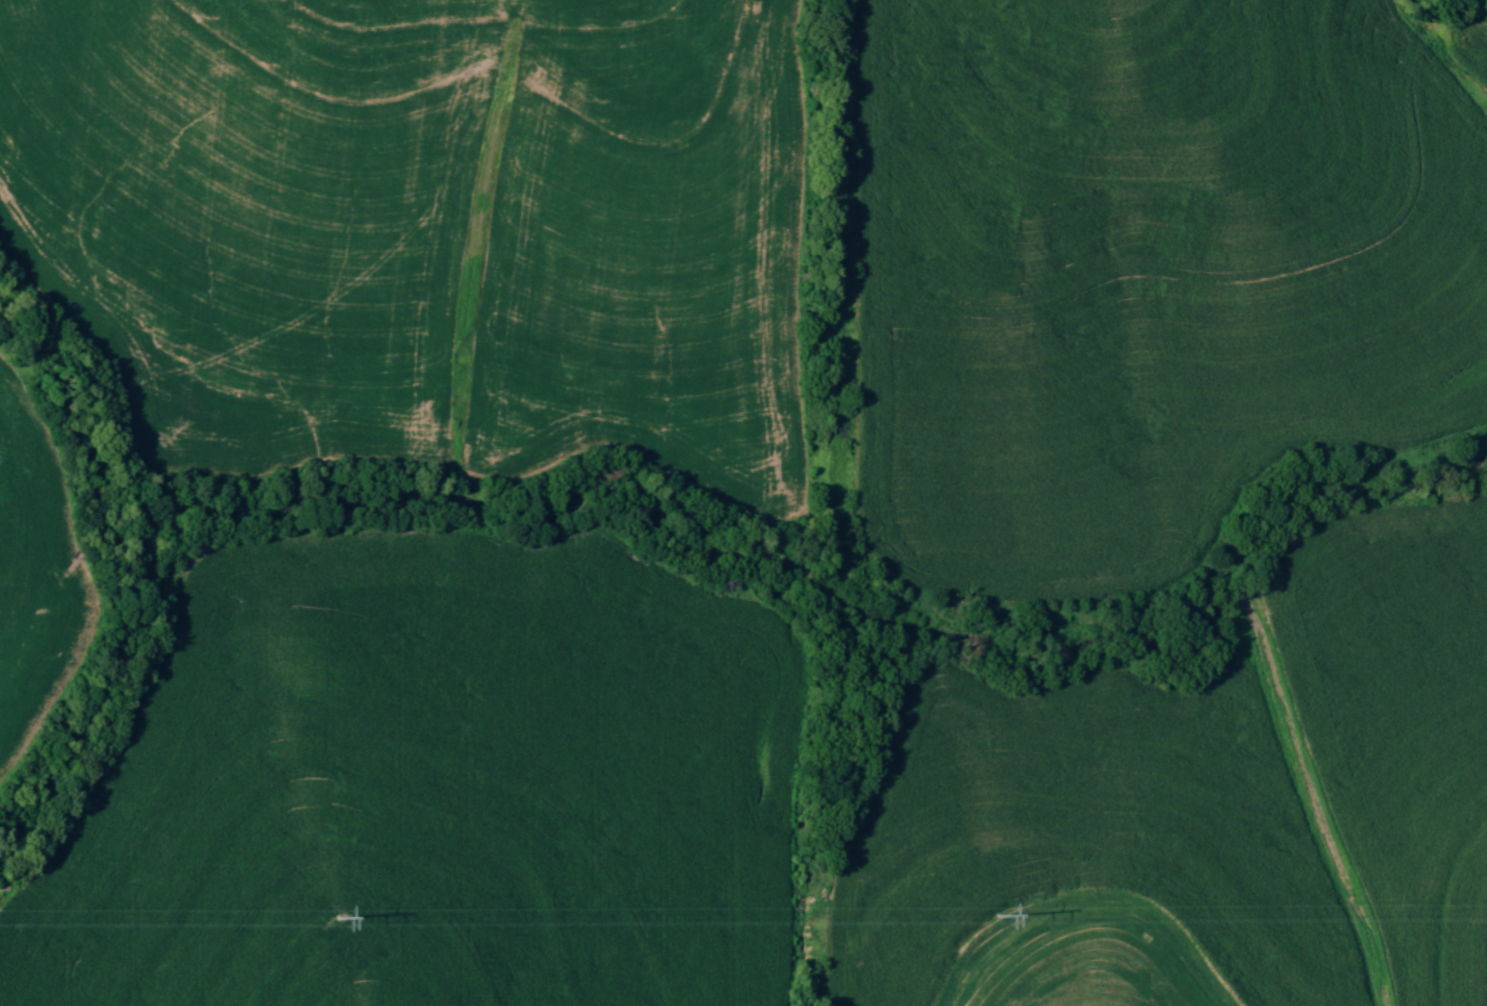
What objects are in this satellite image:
power tower: (997, 914)
power tower: (336, 917)

